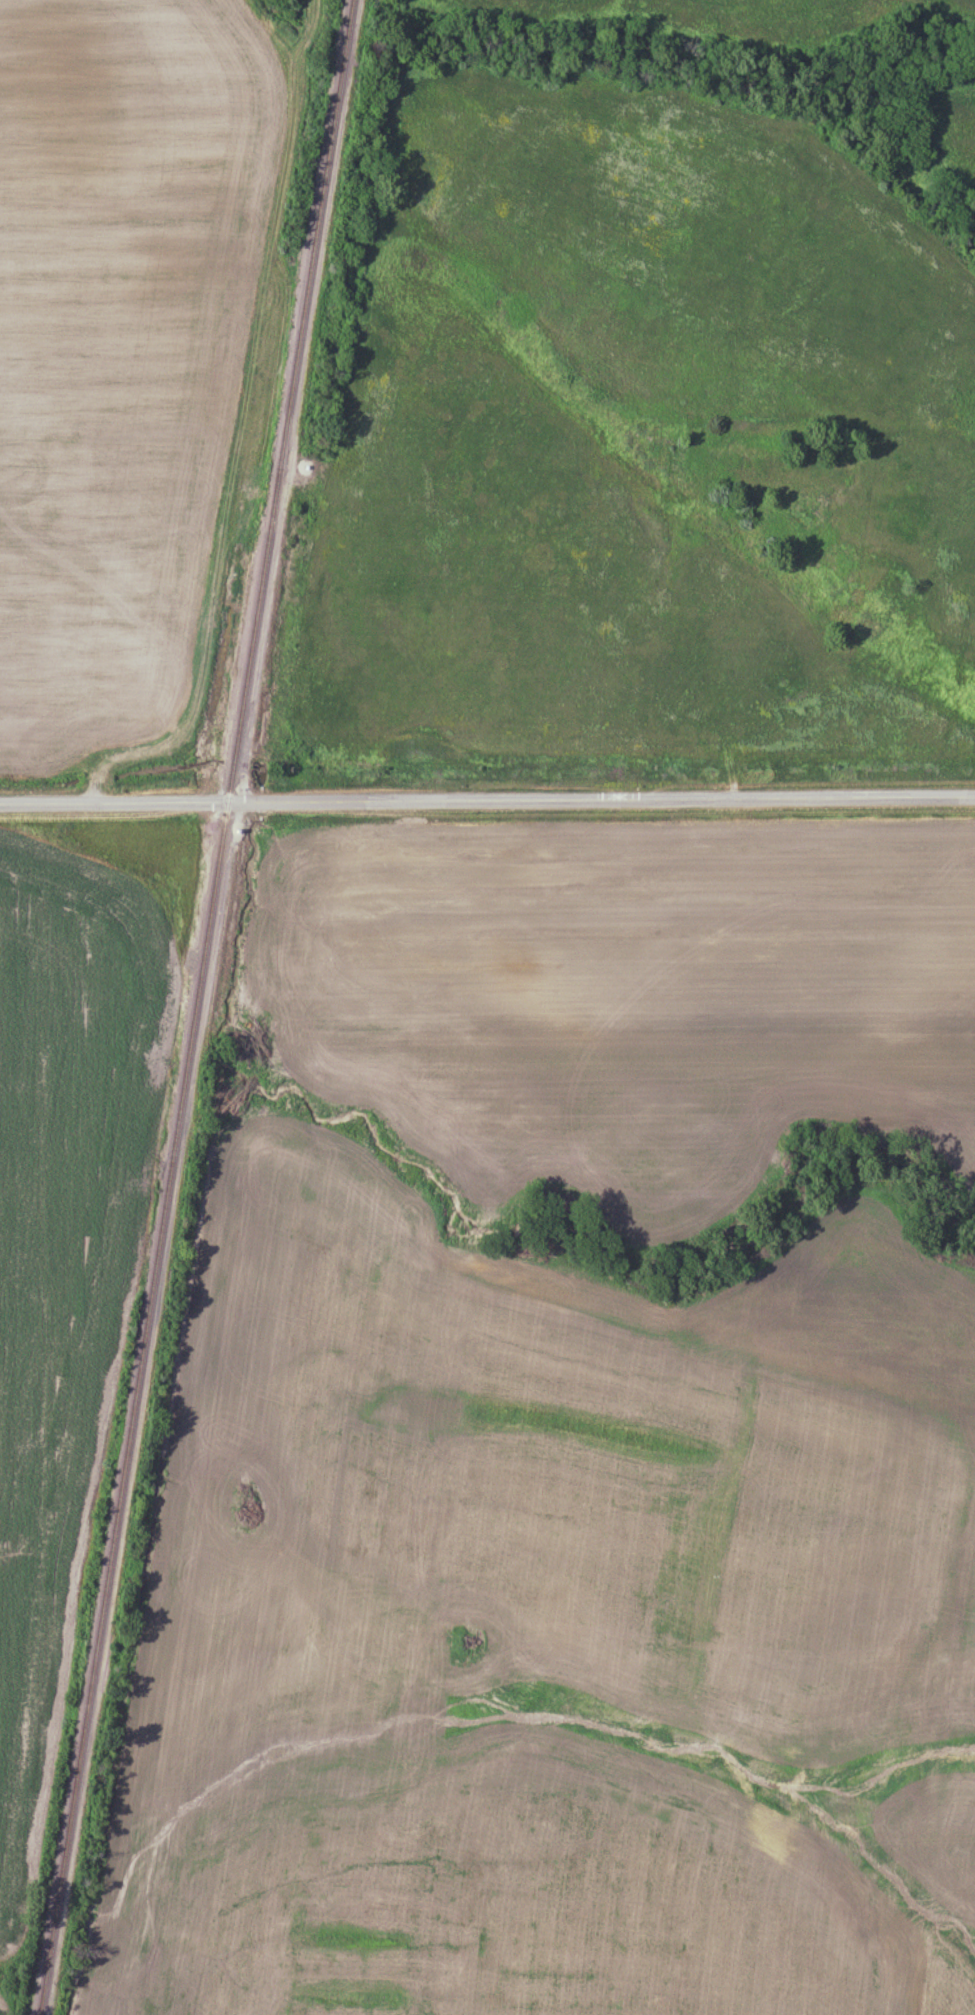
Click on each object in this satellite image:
road: (770, 650)
road: (487, 803)
railway: (194, 1005)

